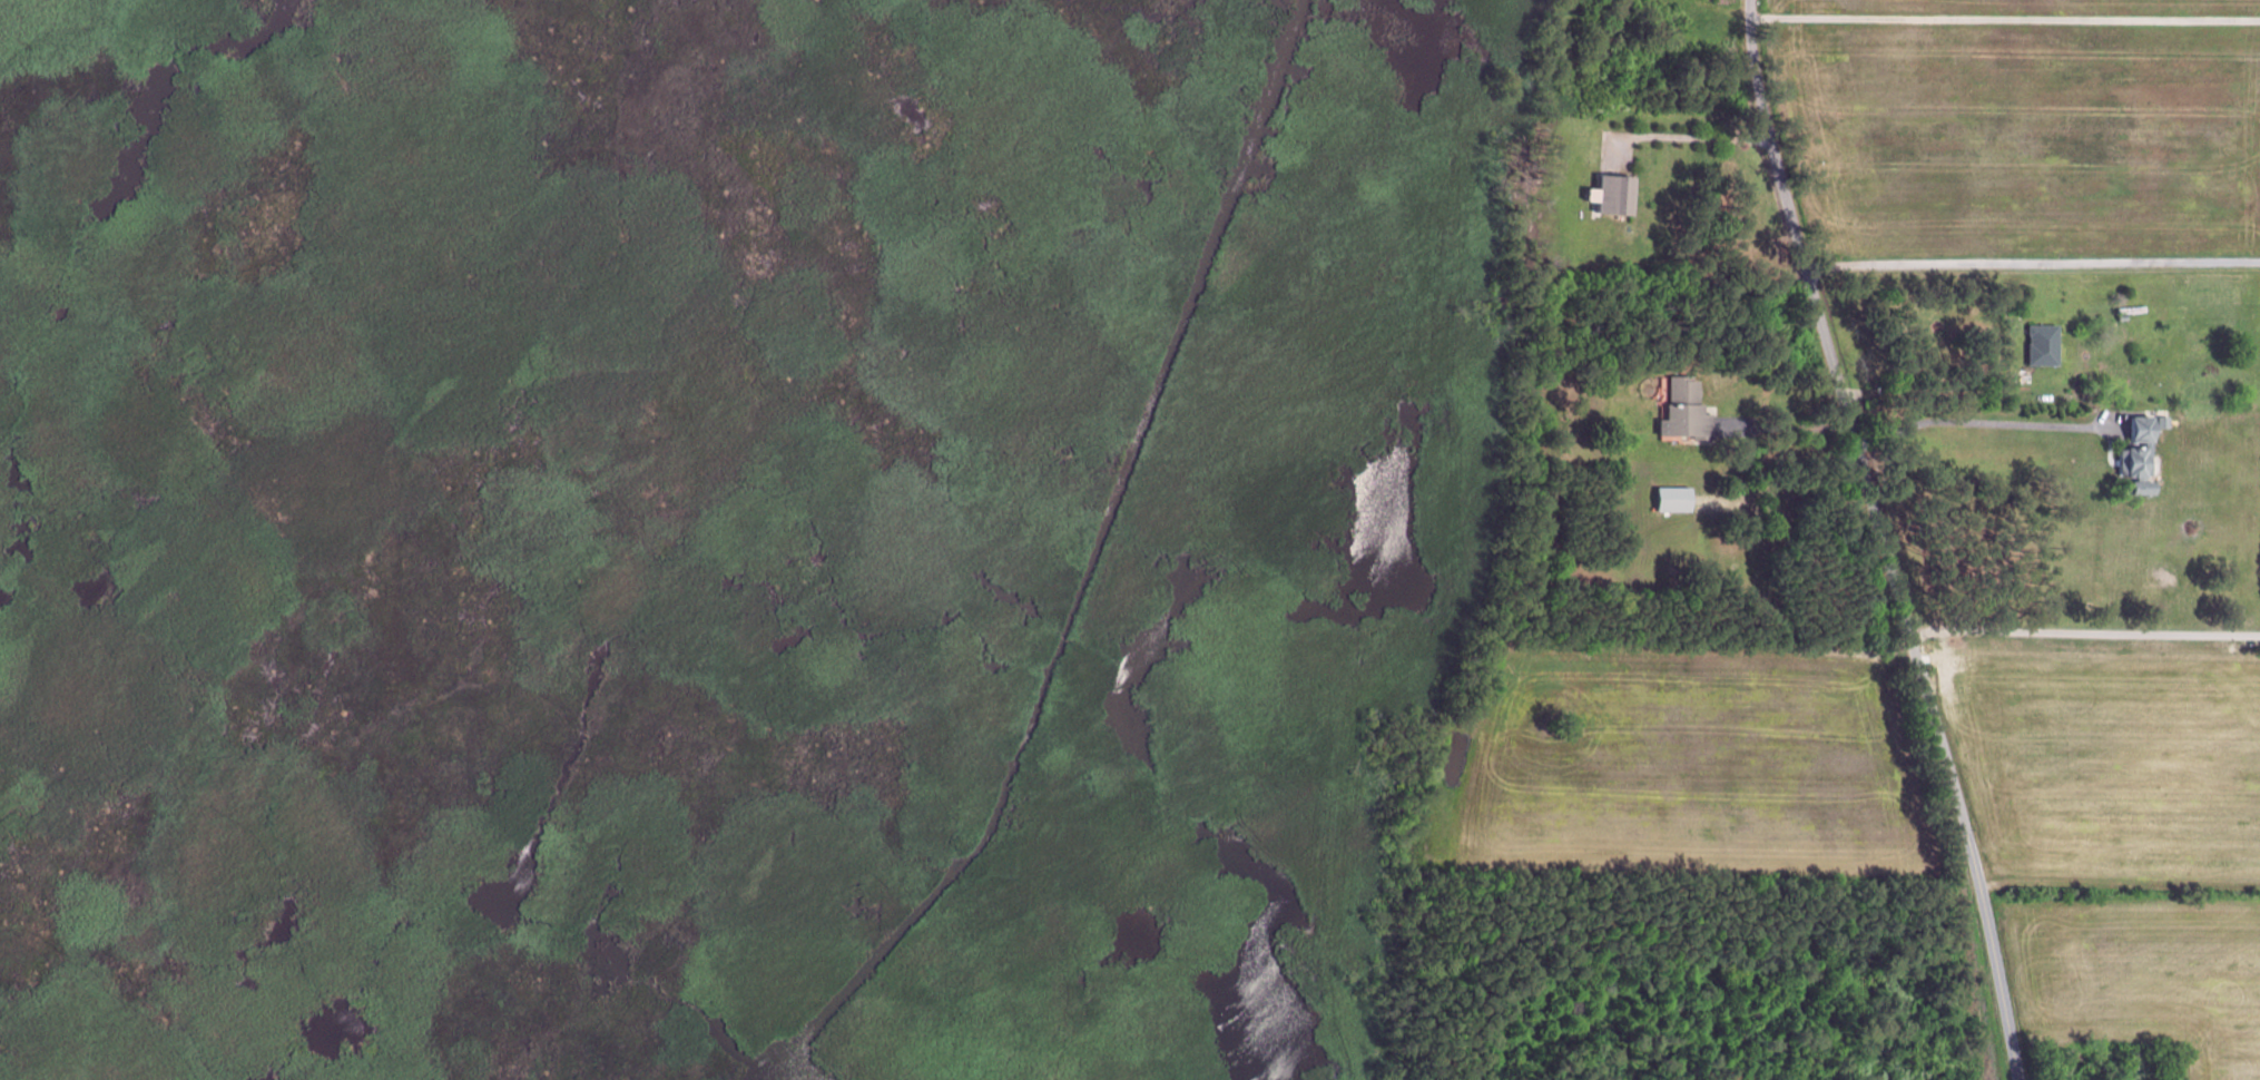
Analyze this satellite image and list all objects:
road: (2004, 21)
road: (1691, 140)
building: (1610, 196)
road: (2032, 264)
building: (2043, 344)
road: (1940, 393)
building: (1684, 410)
road: (1847, 419)
building: (2161, 420)
road: (1978, 421)
road: (1784, 428)
building: (2136, 456)
building: (1670, 501)
road: (2084, 635)
crop: (2112, 760)
crop: (1689, 766)
road: (2120, 884)
road: (1995, 956)
crop: (2143, 976)

